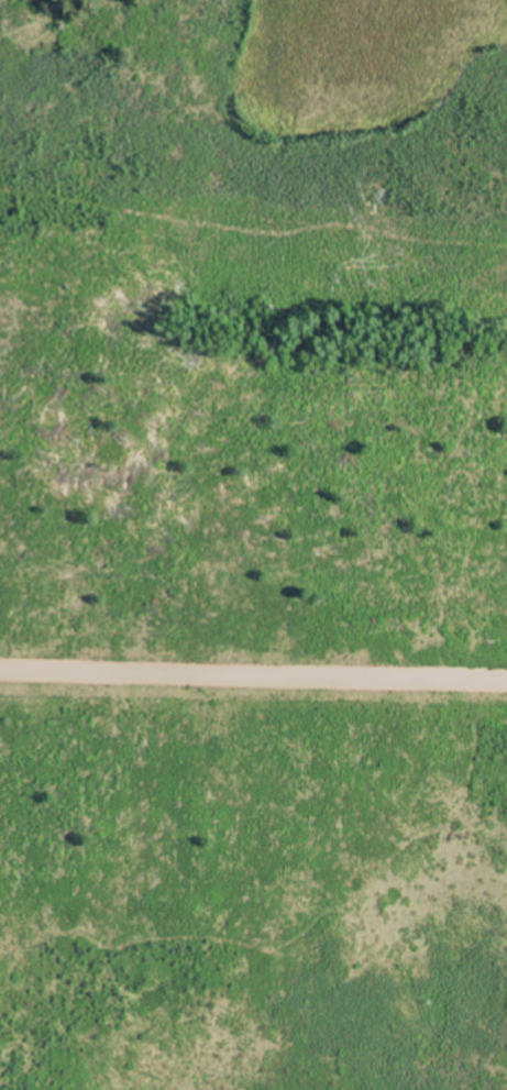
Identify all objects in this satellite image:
road: (253, 675)

